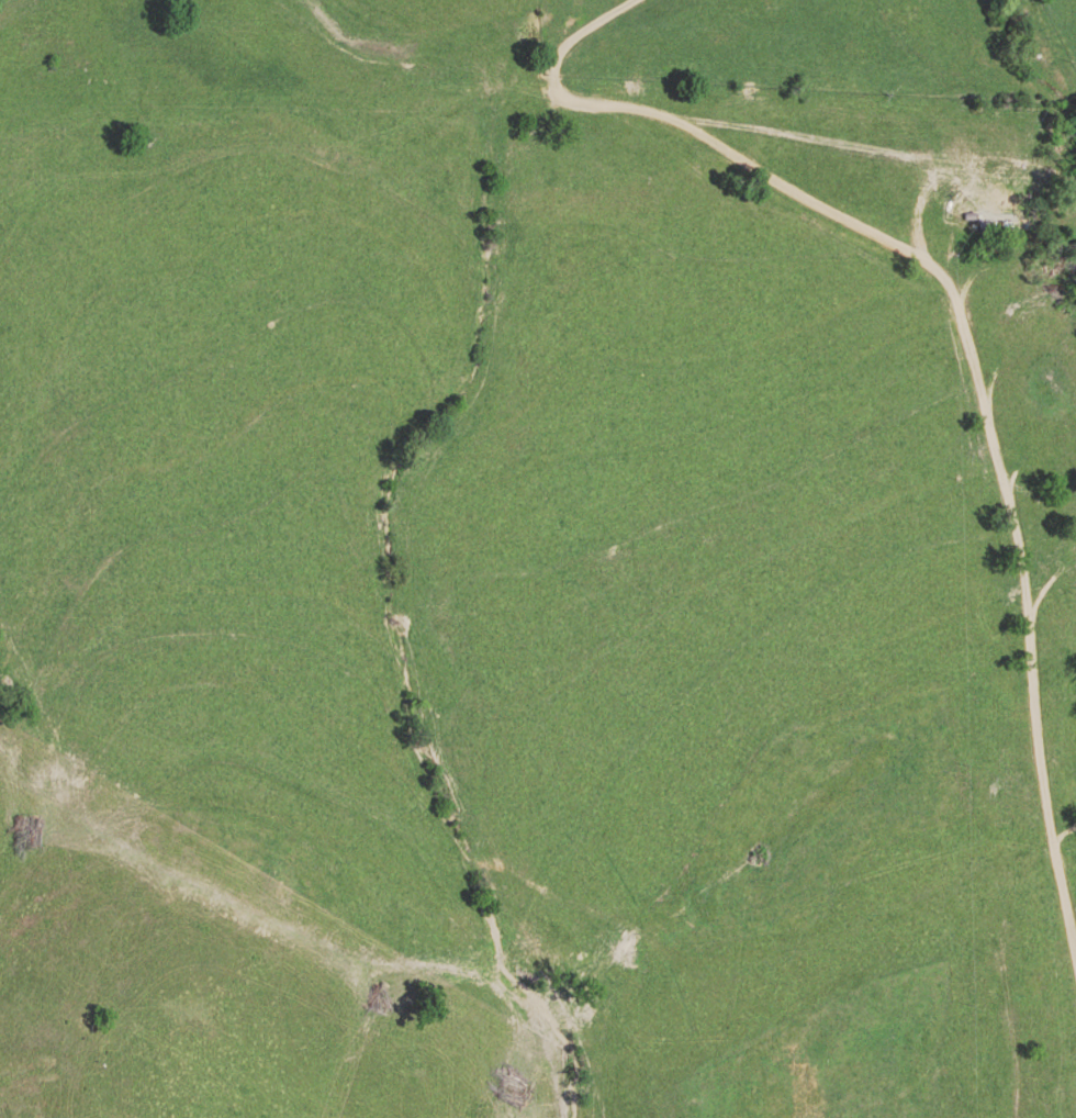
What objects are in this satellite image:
road: (941, 278)

